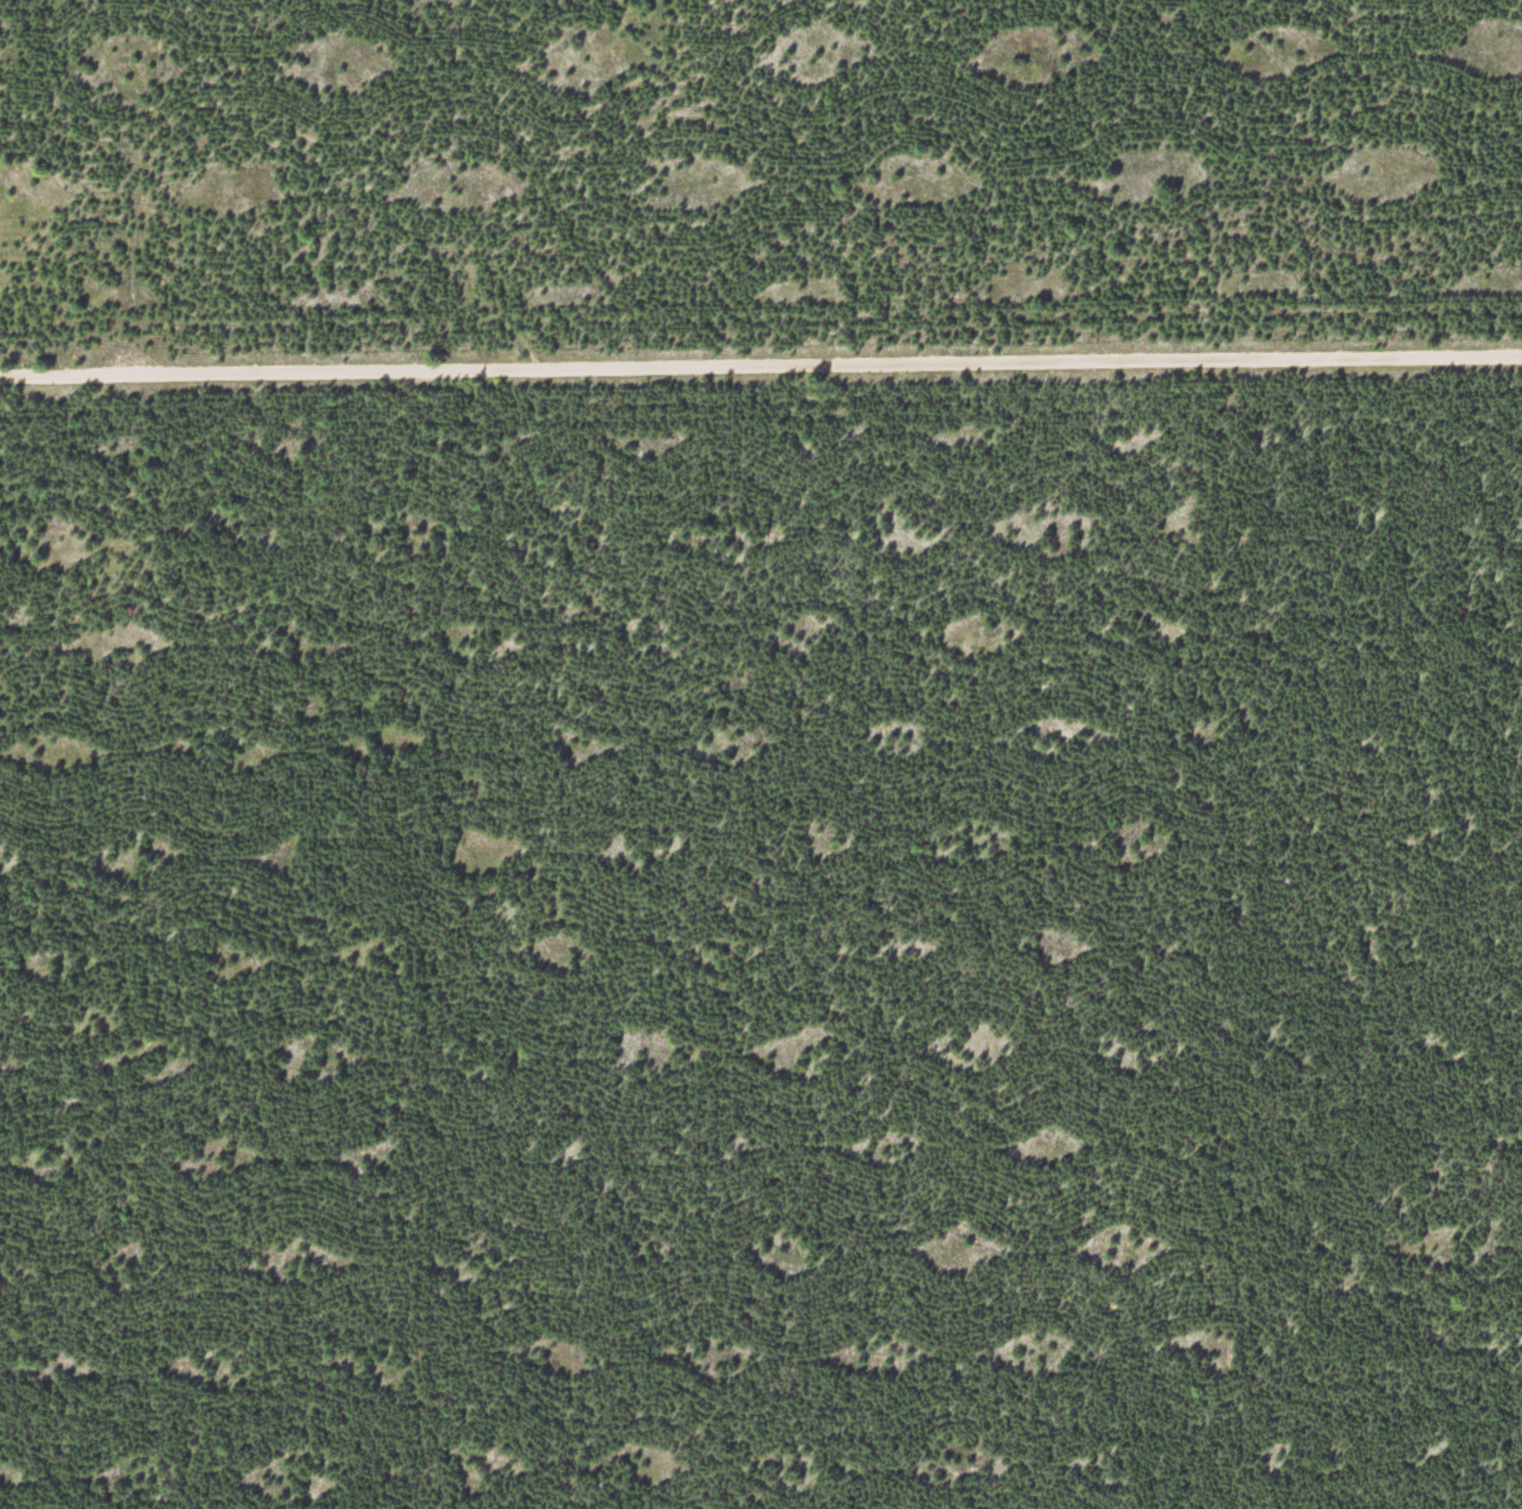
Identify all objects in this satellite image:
road: (761, 364)

